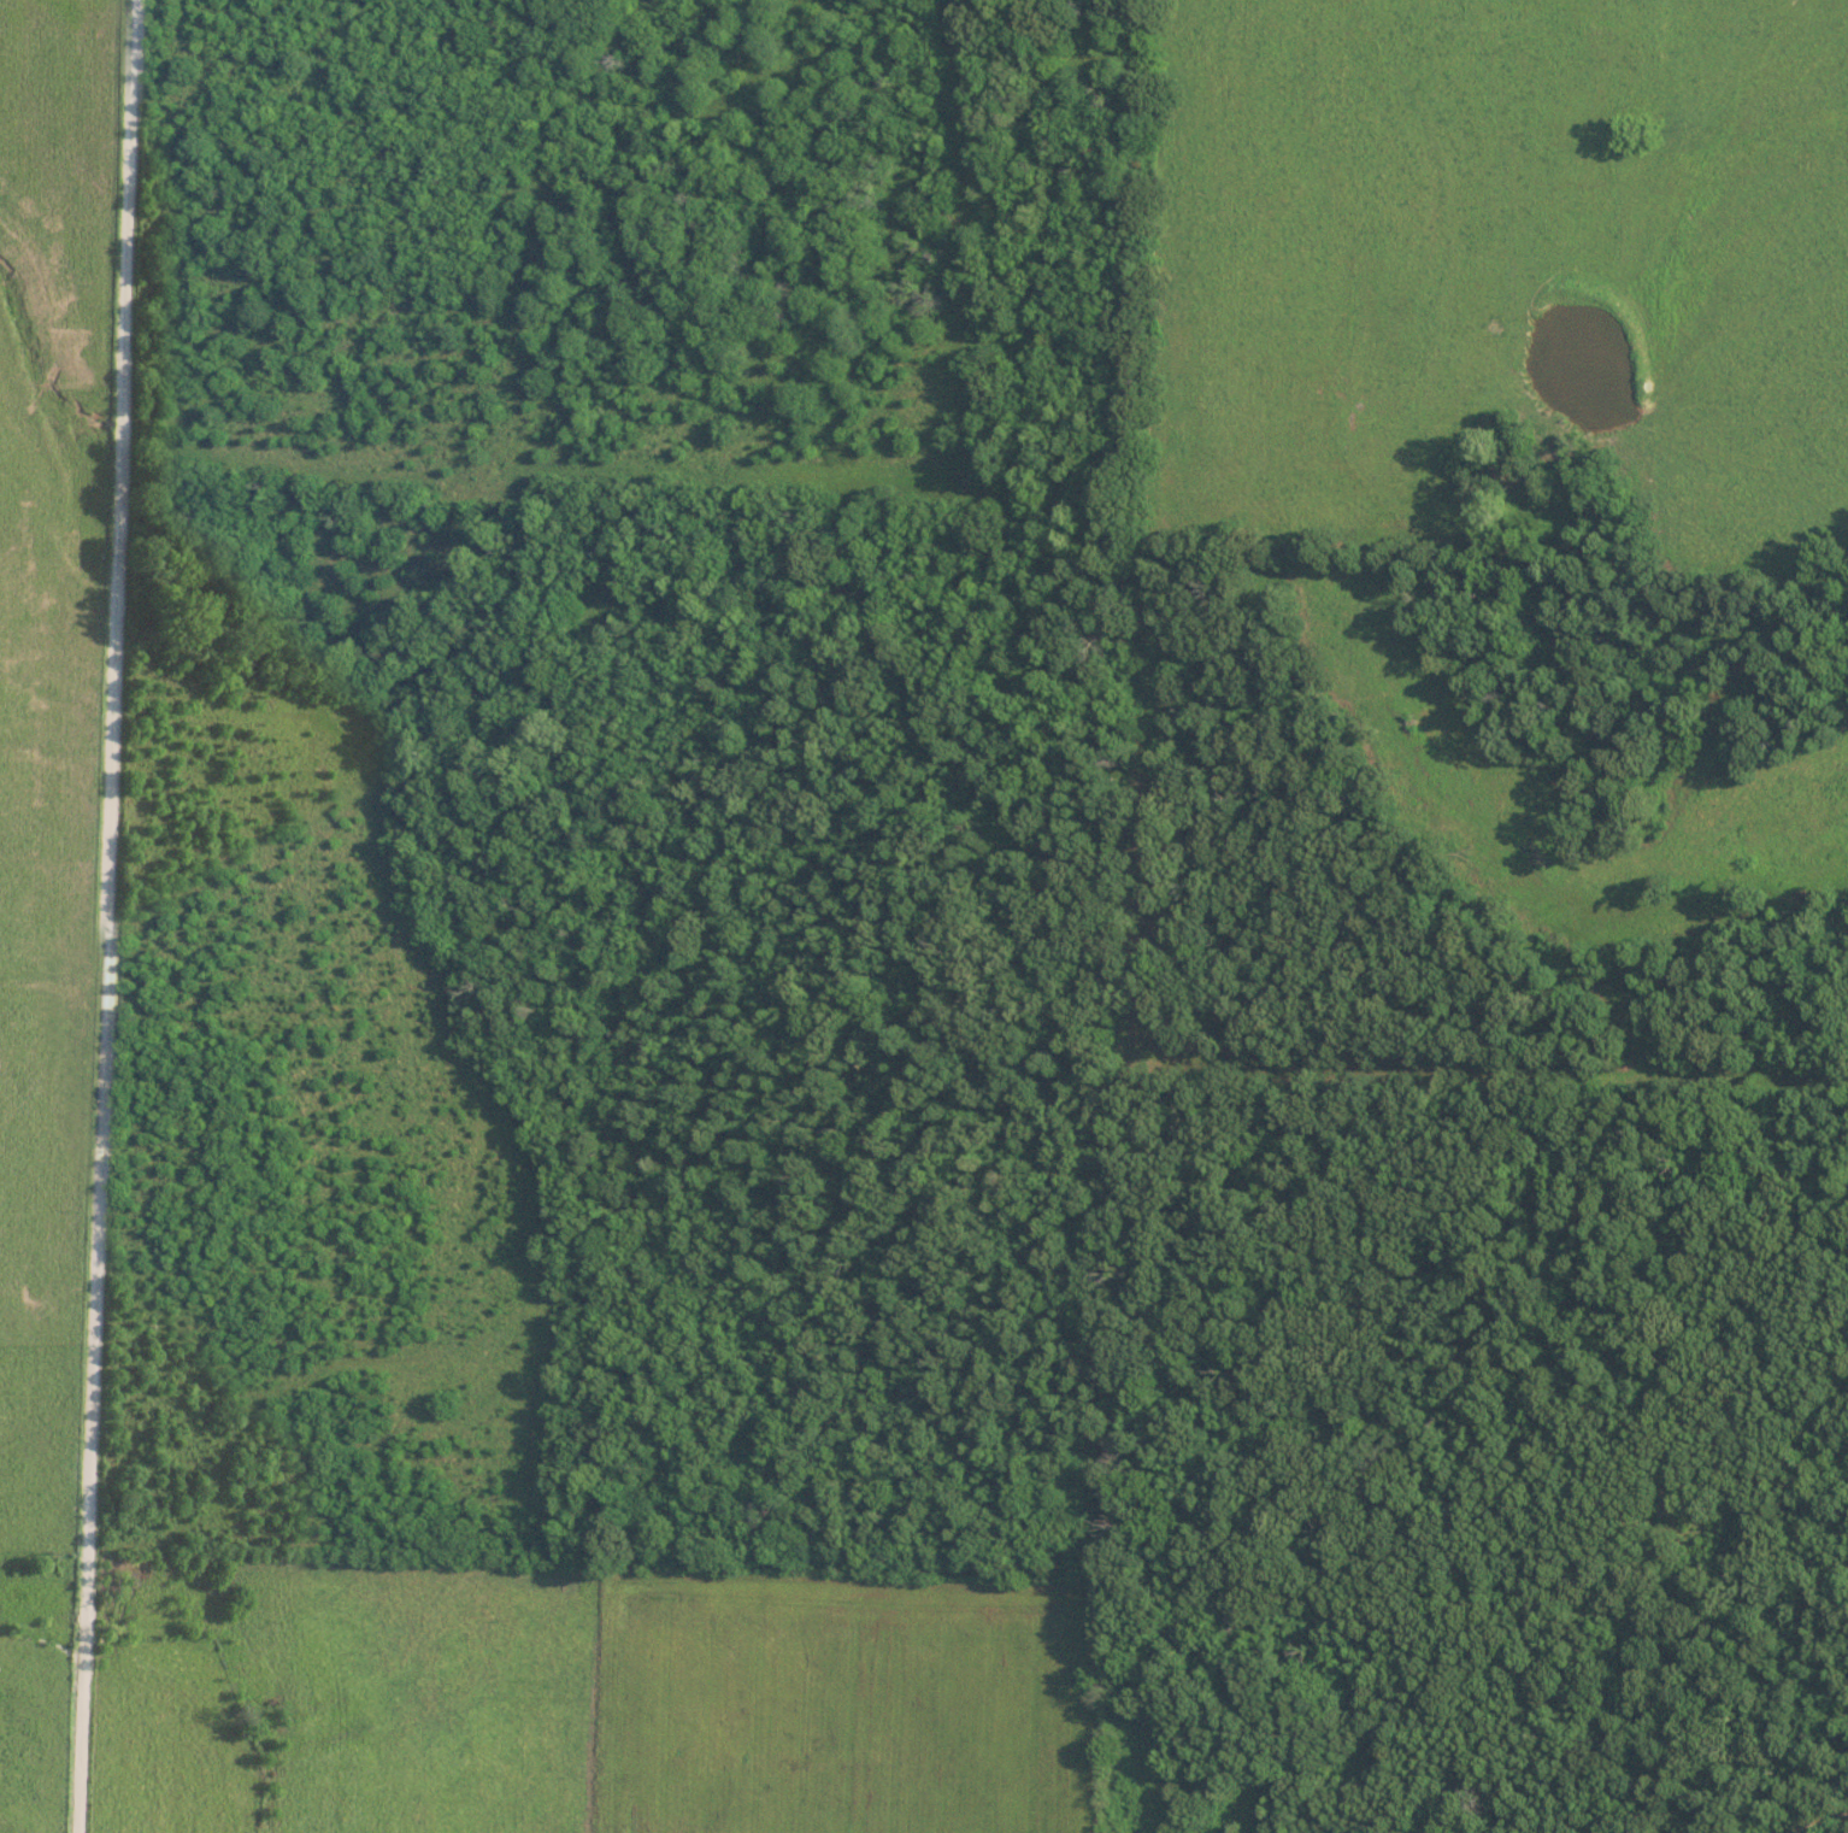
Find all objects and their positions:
road: (110, 916)
road: (1806, 1814)

